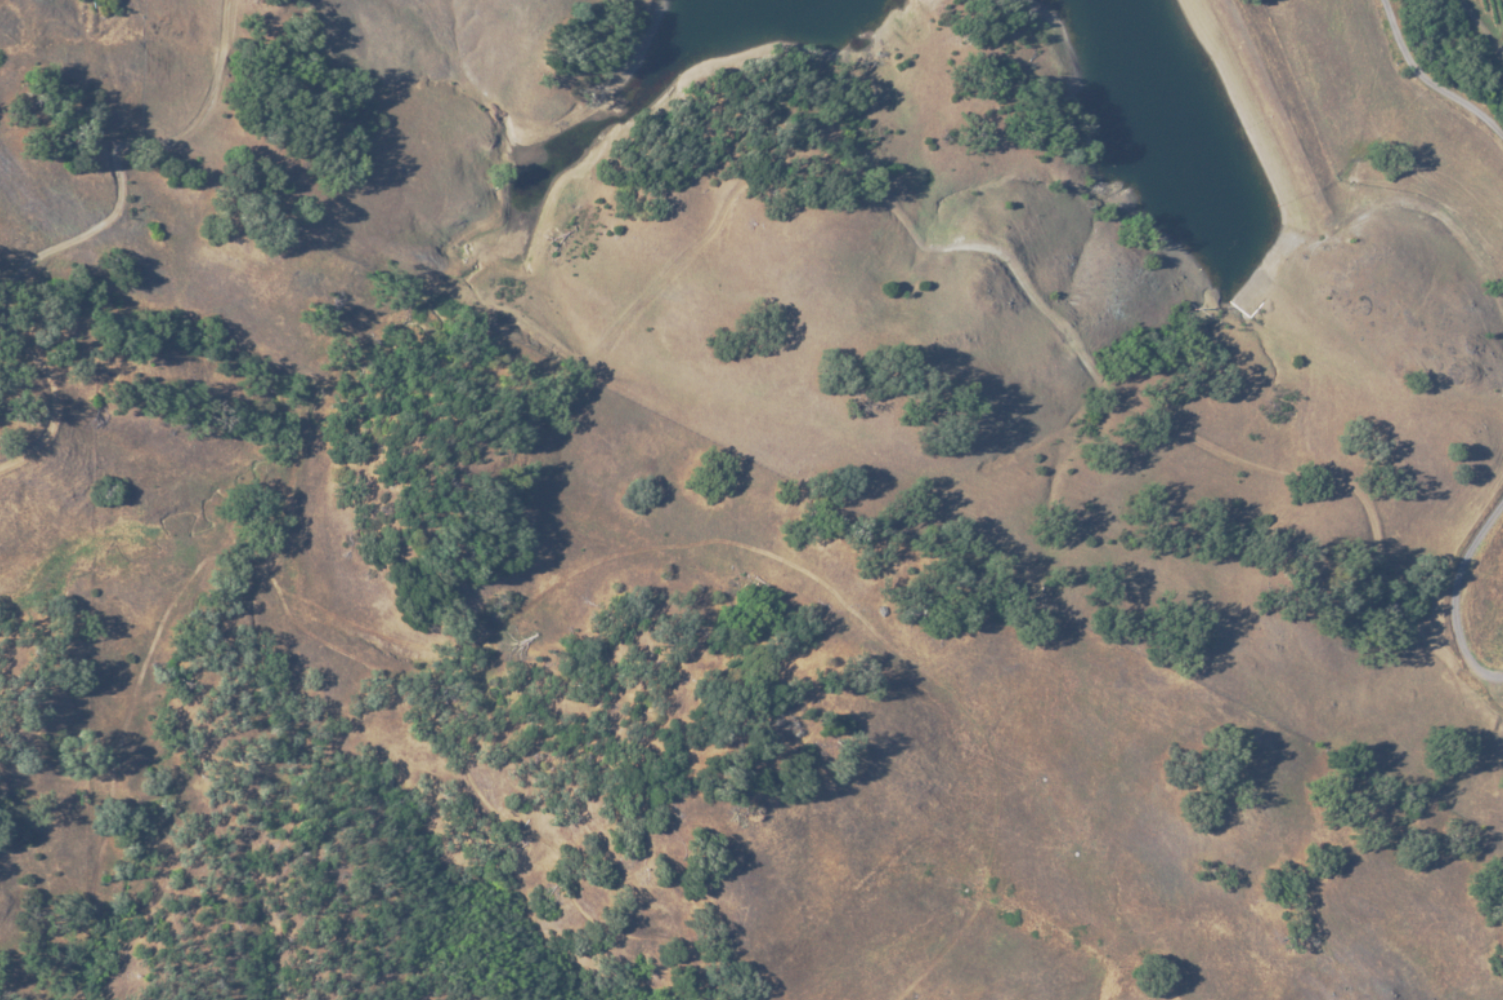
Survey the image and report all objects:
road: (1482, 23)
road: (1480, 215)
road: (1482, 603)

